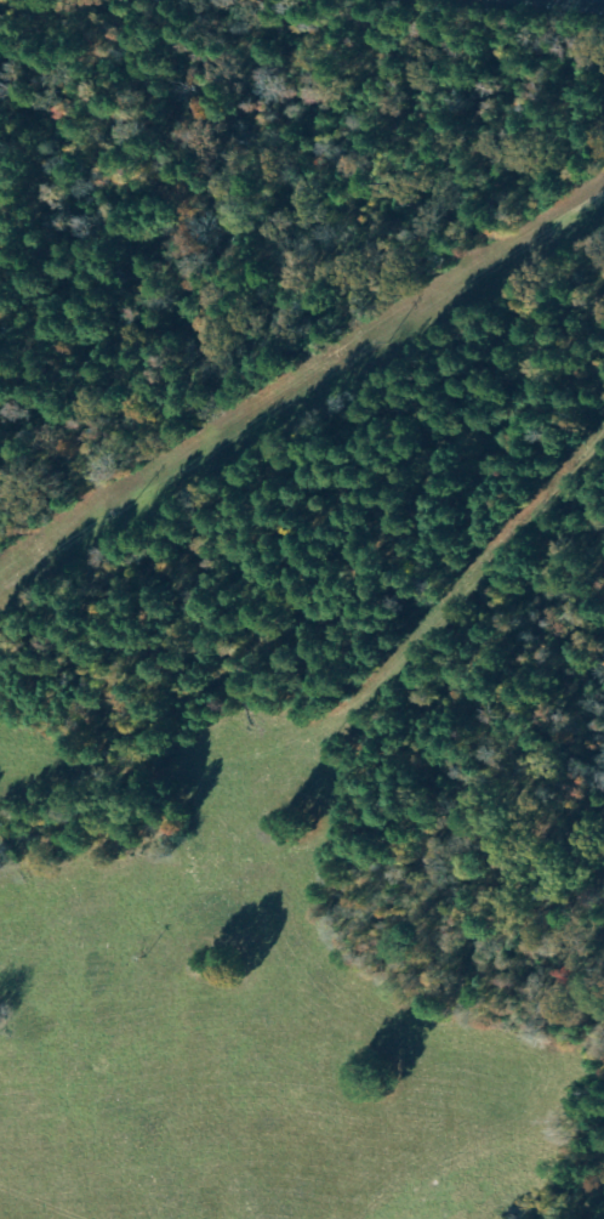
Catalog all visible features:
railway: (576, 2)

